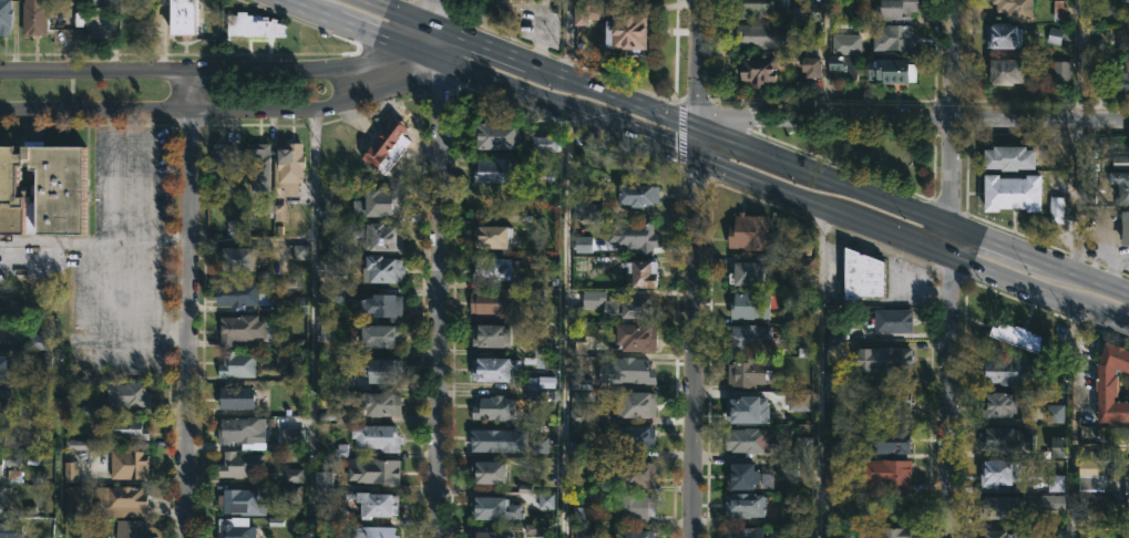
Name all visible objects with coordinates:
building: (97, 2)
building: (1125, 4)
building: (758, 9)
building: (1014, 9)
building: (894, 10)
building: (1058, 10)
building: (849, 12)
building: (586, 13)
building: (4, 15)
road: (400, 15)
road: (442, 15)
building: (33, 18)
building: (179, 19)
building: (250, 27)
road: (361, 30)
building: (624, 33)
building: (760, 35)
building: (1054, 35)
building: (1003, 37)
road: (565, 39)
building: (894, 39)
building: (1122, 39)
building: (845, 44)
road: (442, 45)
road: (823, 58)
road: (954, 59)
road: (1078, 59)
road: (700, 64)
building: (842, 66)
road: (220, 68)
building: (811, 68)
building: (1005, 71)
building: (757, 72)
building: (891, 72)
building: (1060, 73)
building: (1121, 82)
road: (226, 110)
road: (823, 117)
road: (1040, 118)
road: (697, 130)
traffic signals: (697, 130)
building: (494, 135)
building: (544, 142)
building: (383, 144)
park: (871, 154)
road: (696, 161)
building: (1009, 161)
traffic signals: (697, 162)
building: (1120, 162)
building: (256, 165)
building: (222, 166)
building: (496, 169)
building: (287, 170)
road: (953, 173)
road: (109, 174)
road: (147, 174)
building: (1121, 187)
building: (44, 189)
building: (1089, 189)
building: (636, 194)
building: (1012, 195)
road: (1076, 196)
building: (381, 200)
building: (326, 204)
building: (587, 210)
building: (1056, 210)
building: (1125, 229)
building: (750, 231)
building: (490, 235)
building: (378, 236)
building: (633, 236)
road: (94, 239)
road: (253, 239)
building: (583, 244)
road: (952, 245)
building: (298, 255)
building: (235, 257)
building: (804, 261)
road: (1039, 261)
building: (381, 268)
building: (491, 268)
building: (639, 271)
building: (747, 272)
building: (861, 273)
building: (240, 293)
road: (1039, 293)
road: (440, 299)
building: (593, 299)
building: (494, 301)
road: (189, 303)
building: (382, 304)
building: (634, 304)
building: (749, 304)
building: (0, 320)
building: (892, 320)
road: (314, 322)
road: (563, 323)
building: (243, 329)
road: (697, 333)
building: (3, 334)
building: (492, 334)
building: (1015, 334)
building: (635, 335)
building: (749, 337)
building: (376, 338)
building: (41, 343)
building: (890, 359)
building: (235, 364)
building: (3, 366)
building: (489, 368)
building: (381, 370)
building: (628, 370)
building: (1002, 371)
building: (745, 372)
road: (818, 374)
building: (835, 381)
building: (1111, 383)
road: (59, 387)
building: (126, 395)
building: (235, 397)
building: (890, 399)
road: (951, 399)
building: (1, 400)
building: (379, 403)
building: (635, 403)
building: (997, 404)
building: (804, 405)
building: (492, 407)
building: (581, 407)
building: (747, 407)
building: (1056, 414)
road: (1072, 422)
building: (124, 428)
building: (236, 431)
building: (1, 434)
building: (634, 435)
building: (374, 436)
building: (1004, 438)
building: (489, 439)
building: (745, 439)
building: (884, 439)
building: (1058, 447)
building: (577, 448)
building: (125, 463)
building: (238, 464)
building: (2, 467)
building: (1091, 467)
building: (784, 469)
building: (374, 470)
building: (486, 472)
building: (885, 472)
building: (633, 473)
building: (997, 473)
building: (741, 475)
building: (831, 478)
building: (1056, 484)
building: (1127, 489)
building: (1, 497)
building: (119, 499)
building: (75, 500)
building: (240, 500)
building: (1050, 501)
building: (373, 503)
building: (743, 504)
building: (493, 507)
building: (633, 507)
building: (1000, 507)
building: (579, 515)
building: (127, 528)
building: (233, 528)
building: (6, 530)
building: (374, 531)
building: (742, 531)
building: (883, 531)
building: (1128, 531)
building: (582, 532)
building: (635, 532)
building: (487, 534)
building: (997, 534)

